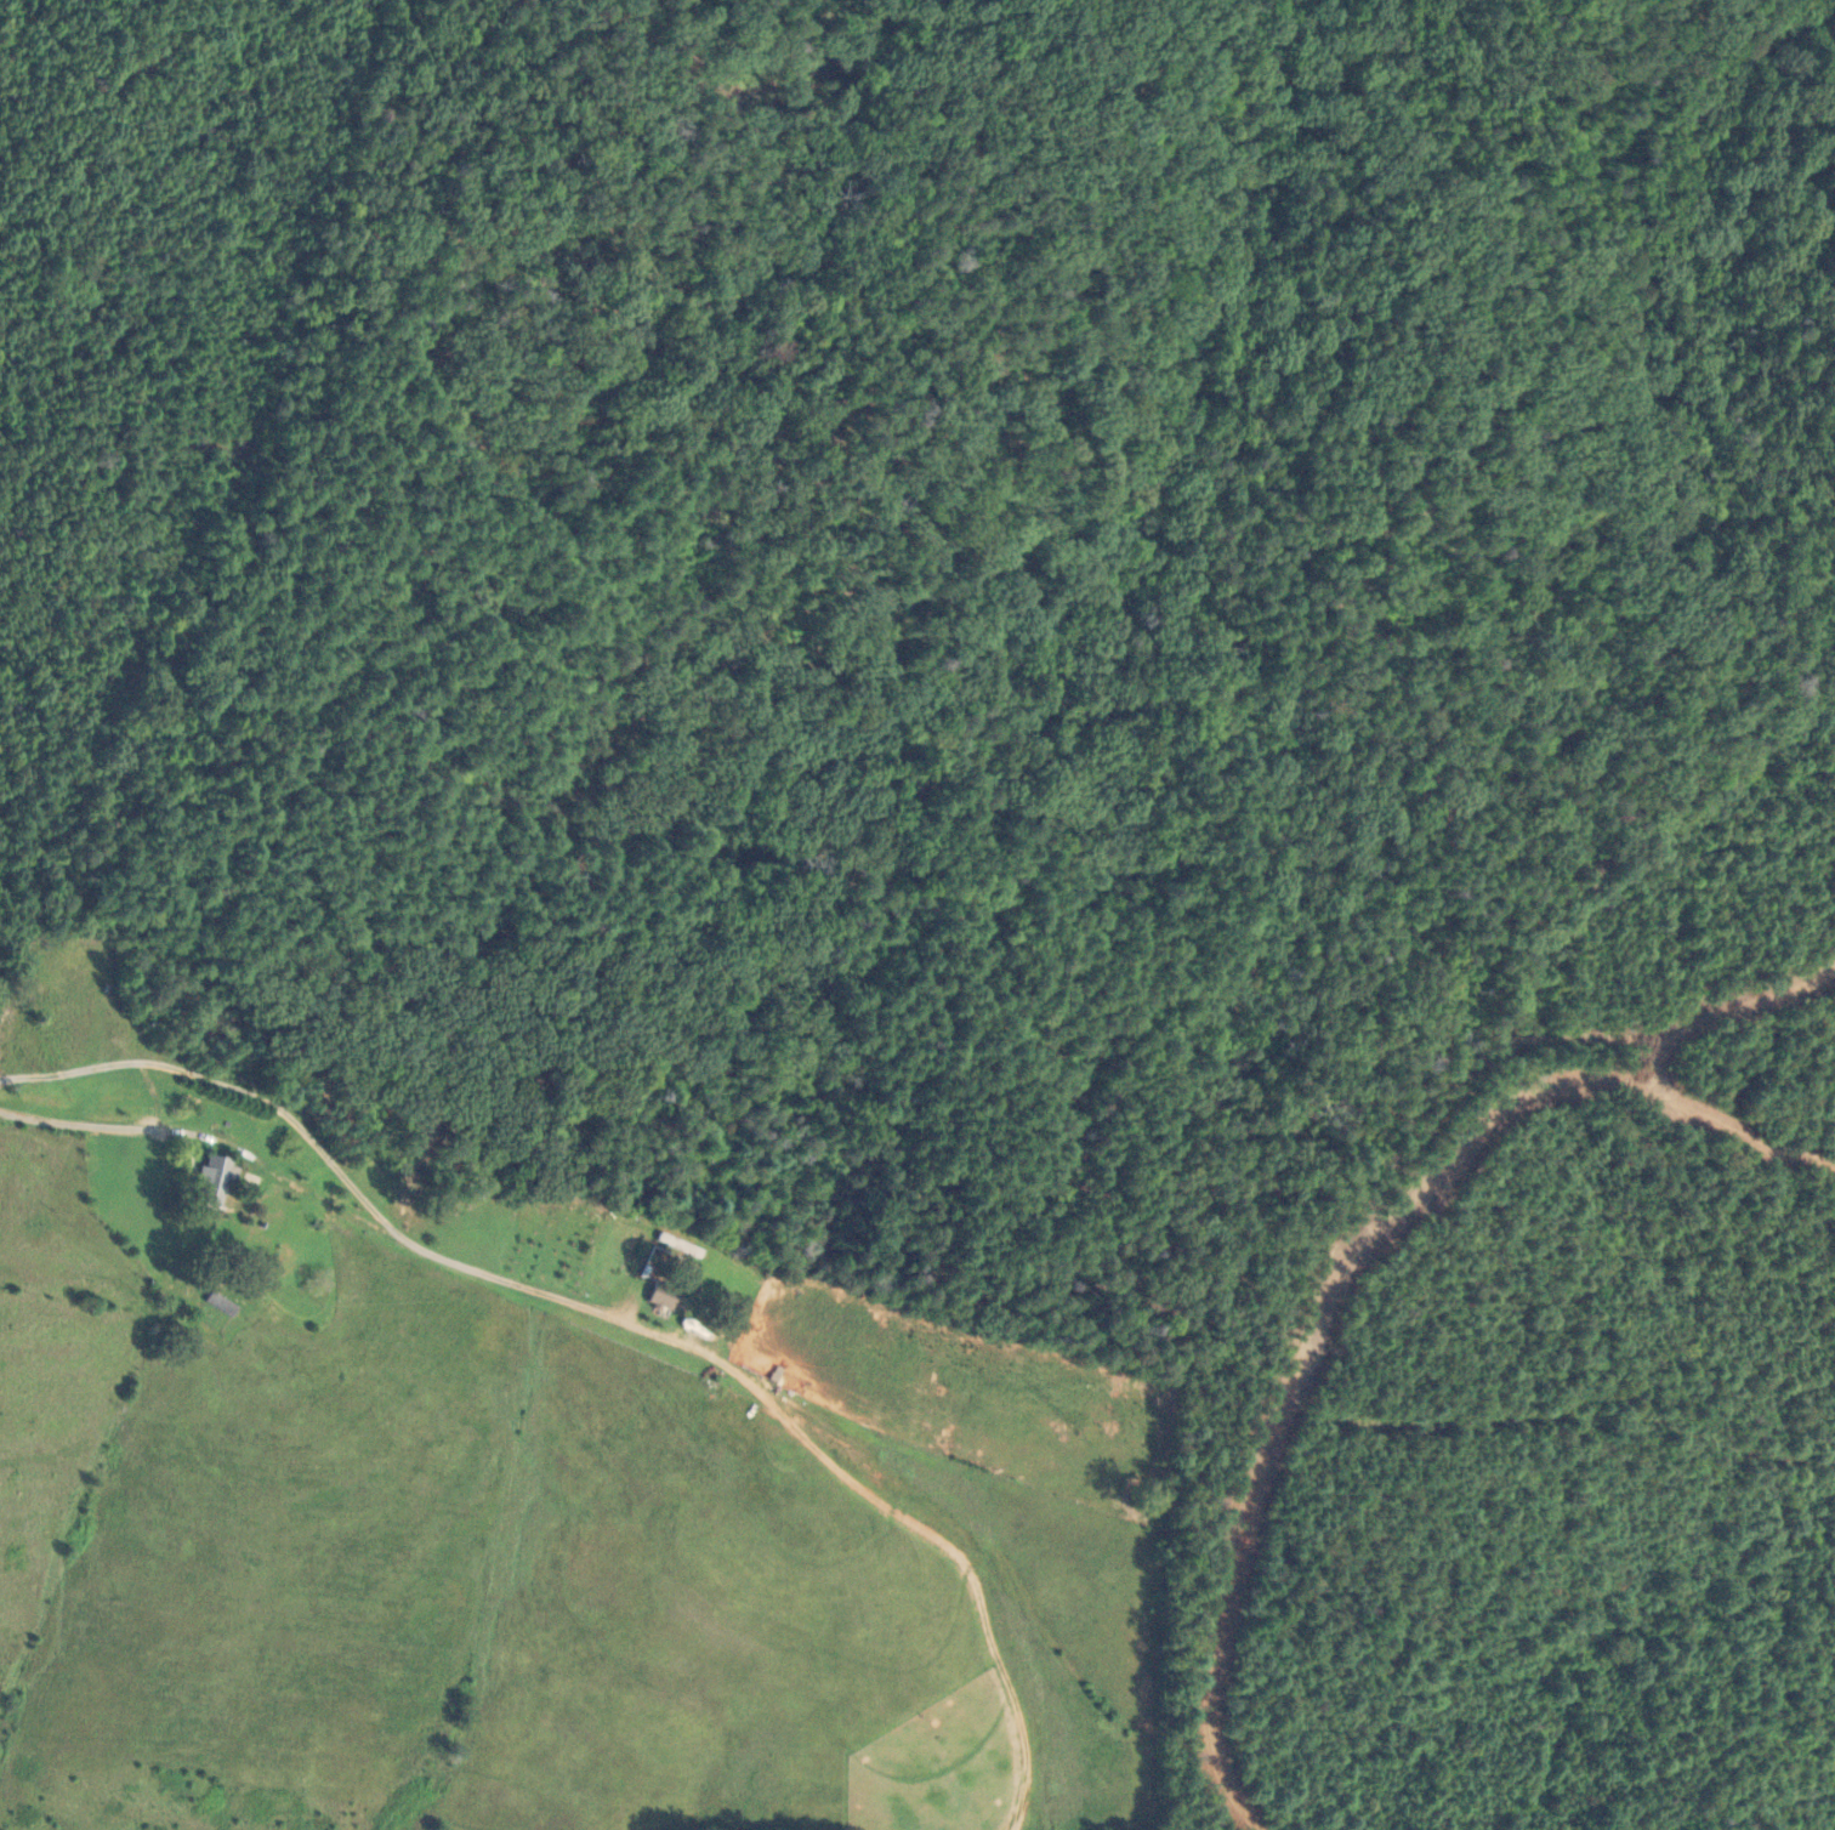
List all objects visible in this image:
road: (282, 1175)
building: (204, 1178)
building: (660, 1294)
building: (212, 1302)

